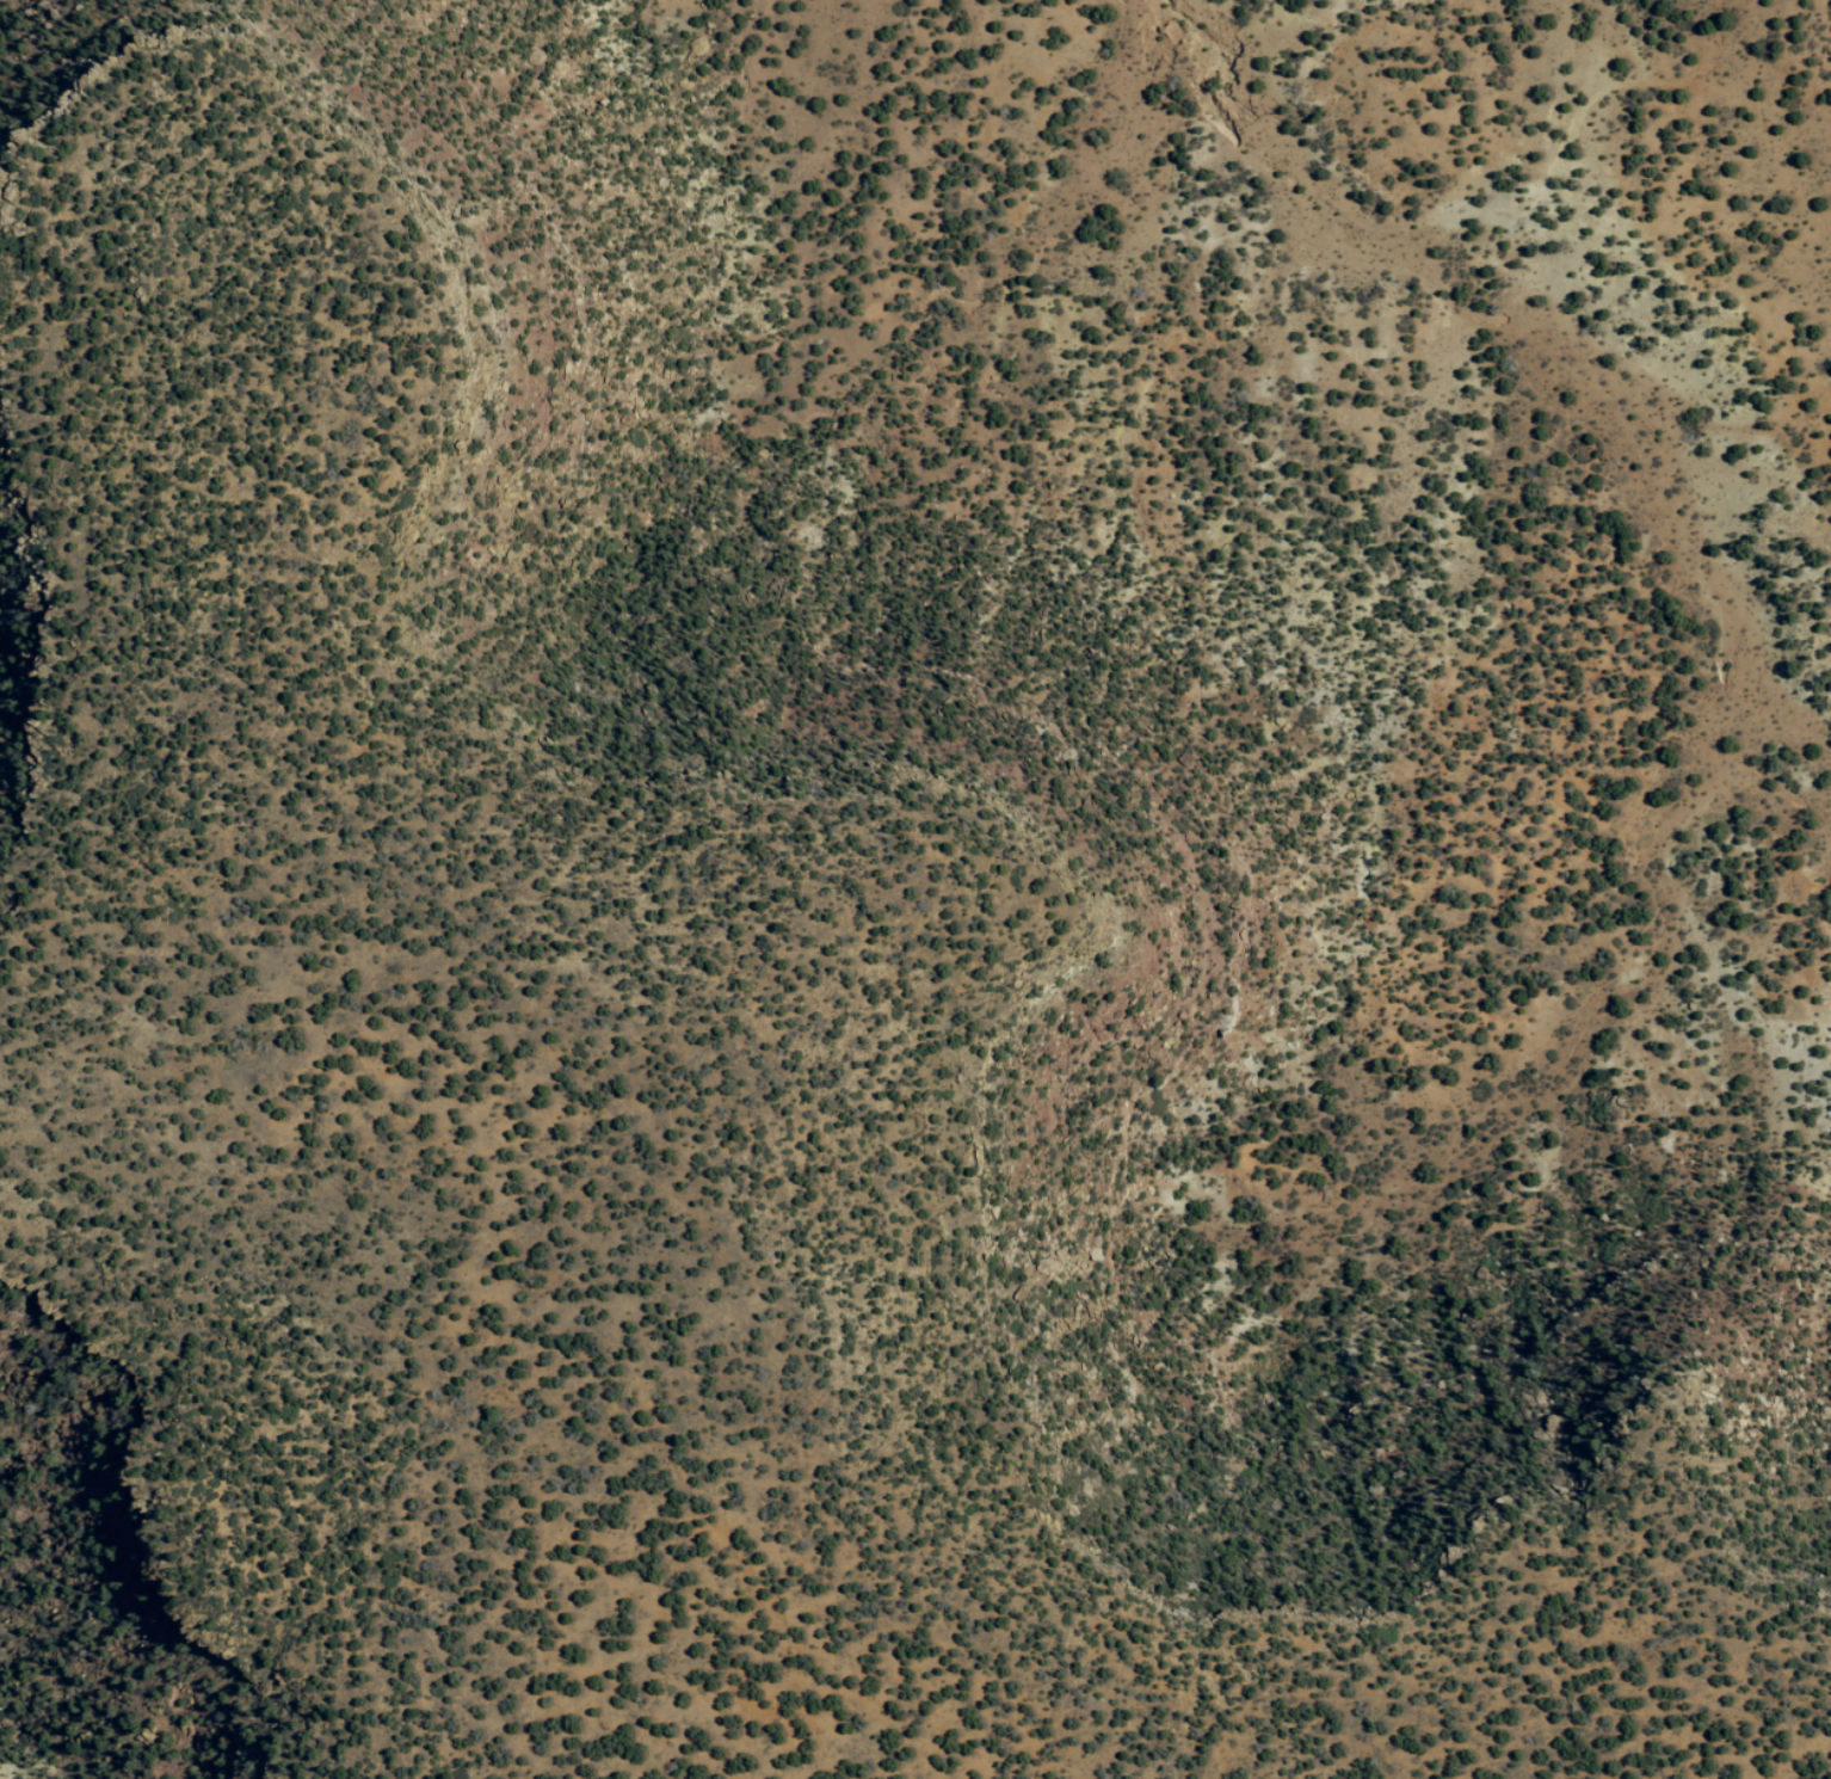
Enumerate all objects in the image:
road: (1442, 229)

